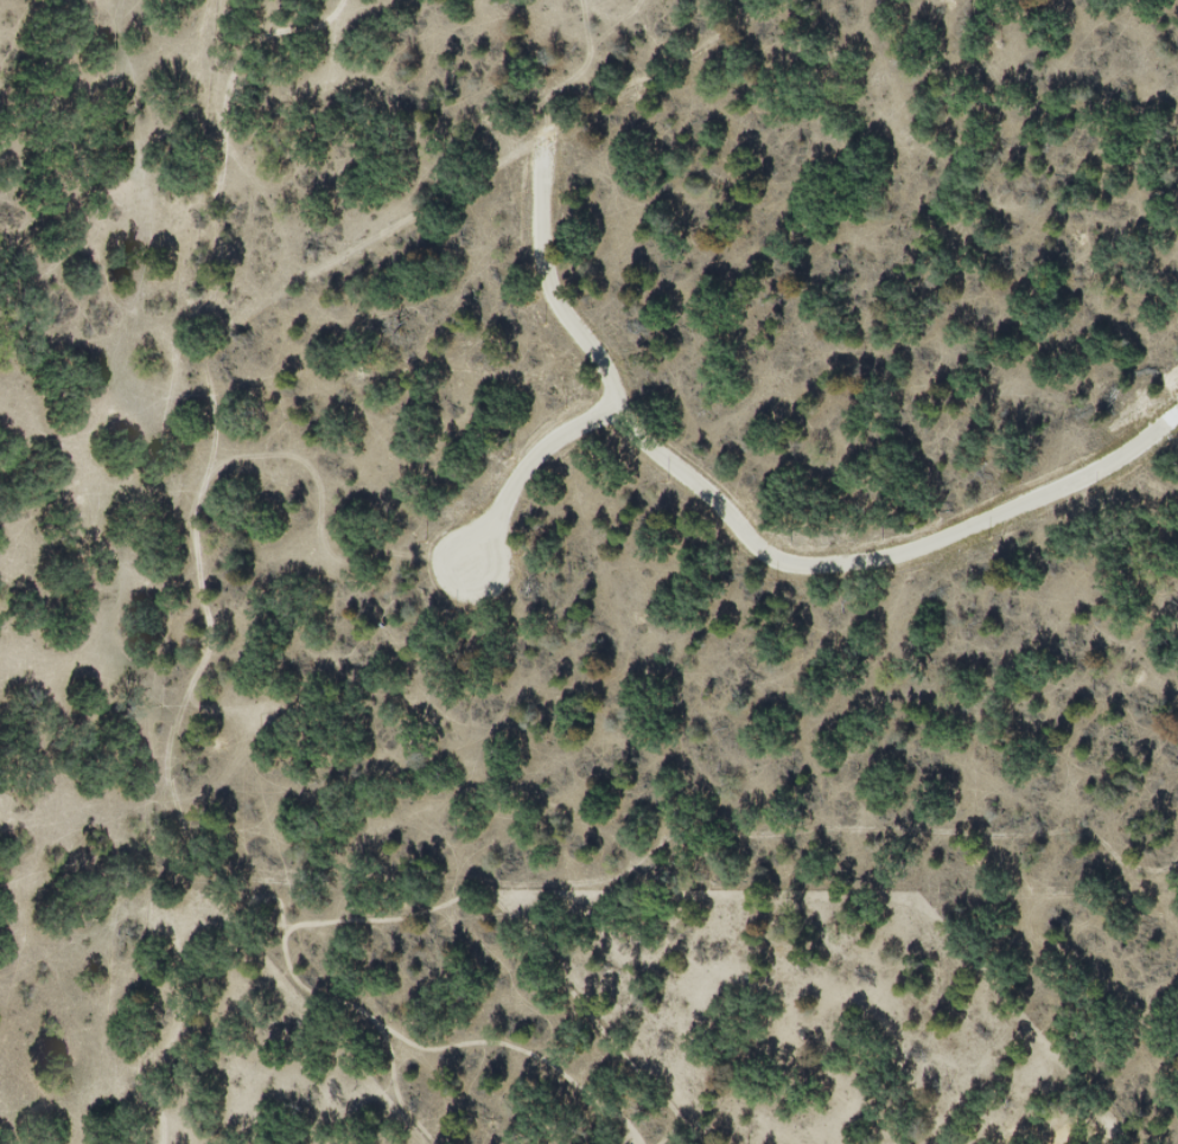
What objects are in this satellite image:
road: (84, 190)
road: (180, 443)
road: (149, 1016)

